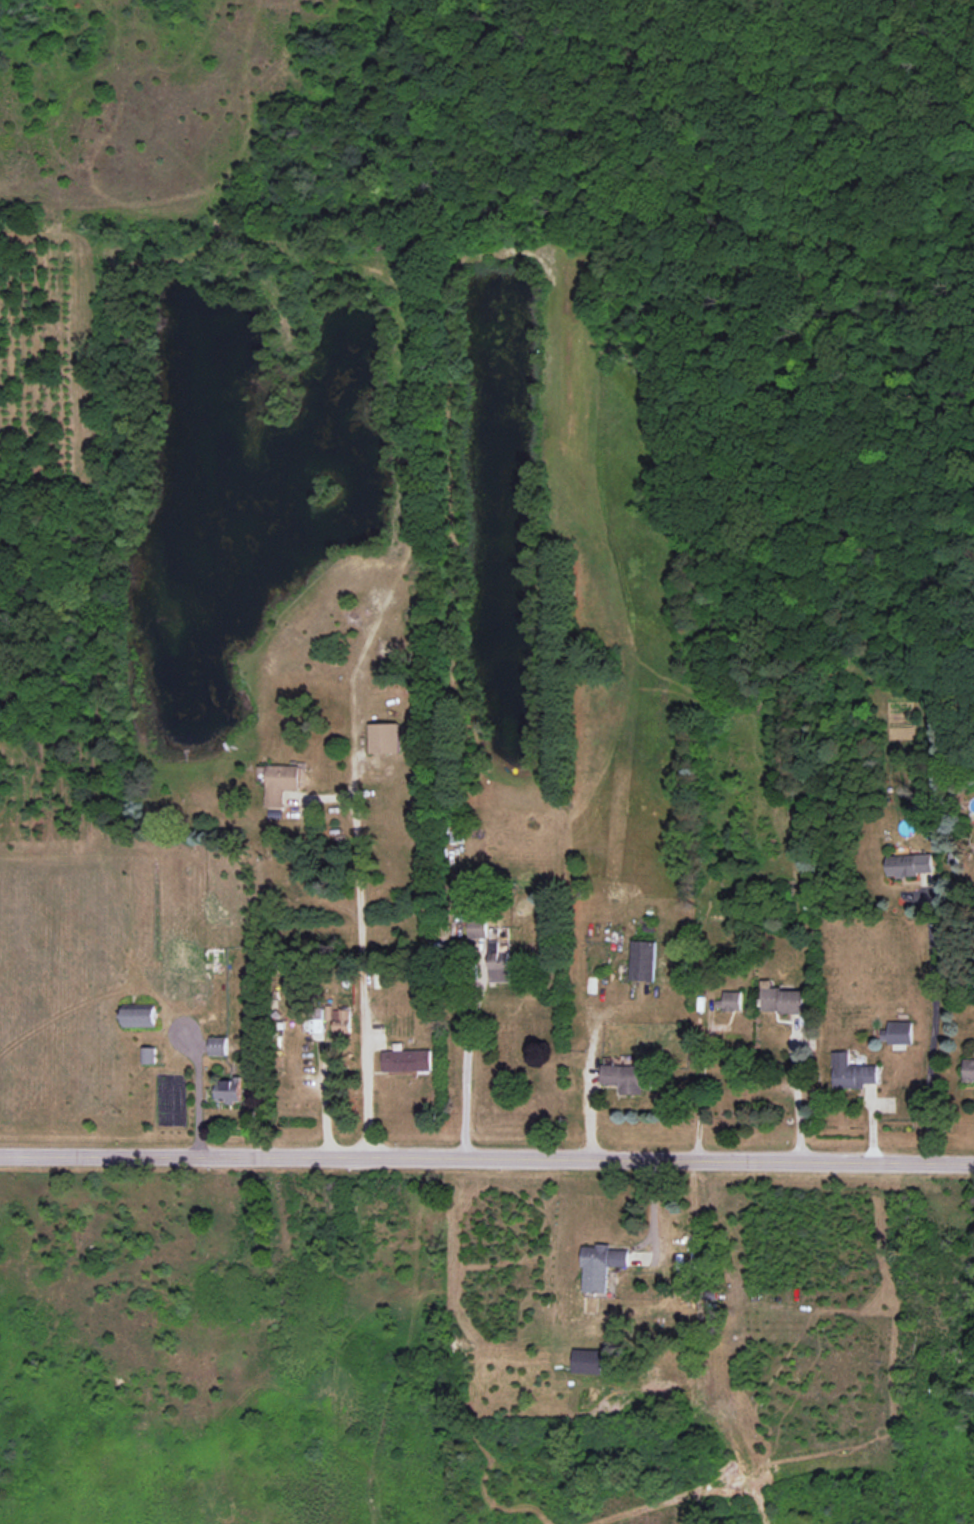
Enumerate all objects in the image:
building: (385, 738)
building: (282, 782)
building: (910, 865)
building: (477, 924)
building: (643, 960)
building: (499, 963)
road: (362, 981)
building: (783, 999)
building: (731, 1001)
road: (464, 1009)
building: (140, 1017)
road: (930, 1018)
building: (342, 1021)
building: (897, 1033)
building: (218, 1046)
building: (149, 1055)
building: (407, 1060)
building: (968, 1070)
building: (851, 1072)
building: (628, 1077)
road: (700, 1086)
building: (230, 1090)
road: (799, 1098)
road: (325, 1109)
road: (199, 1110)
road: (487, 1163)
building: (601, 1266)
building: (587, 1361)

